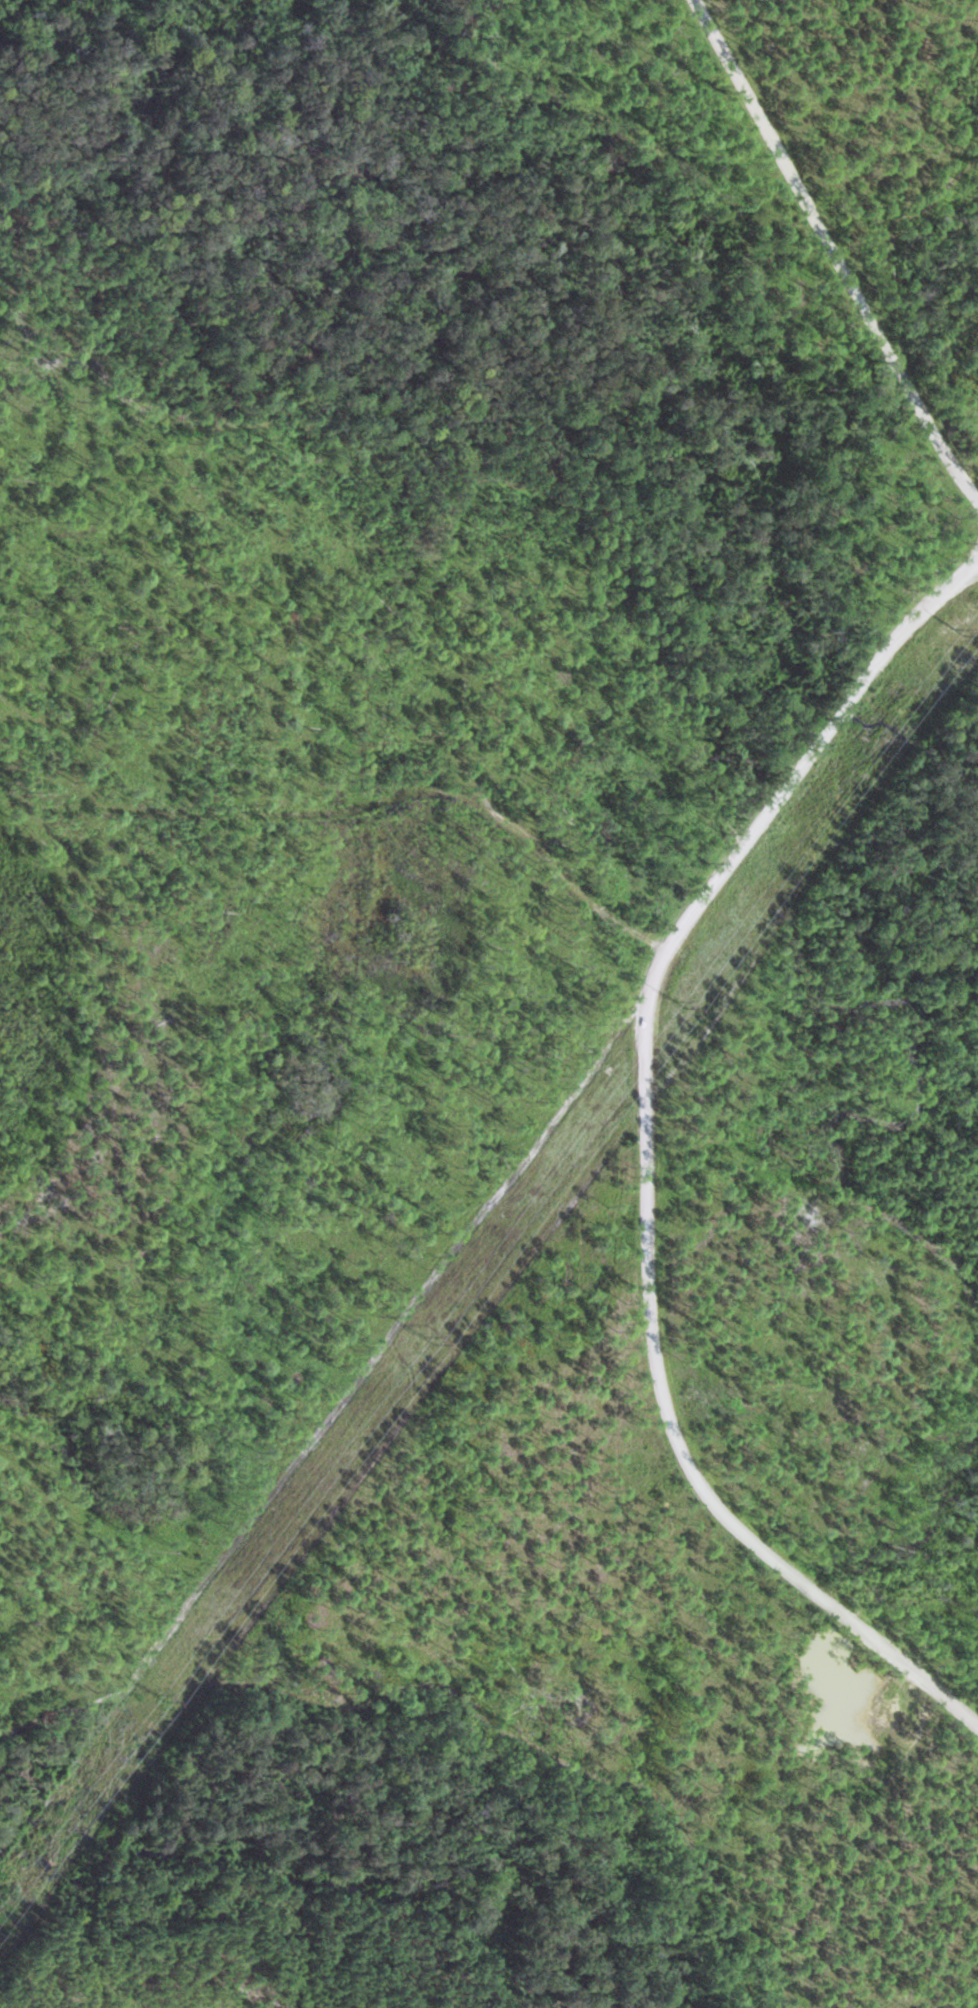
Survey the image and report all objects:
road: (833, 250)
power tower: (962, 630)
power tower: (684, 1003)
road: (646, 1151)
power tower: (429, 1340)
power tower: (164, 1697)
road: (883, 1704)

